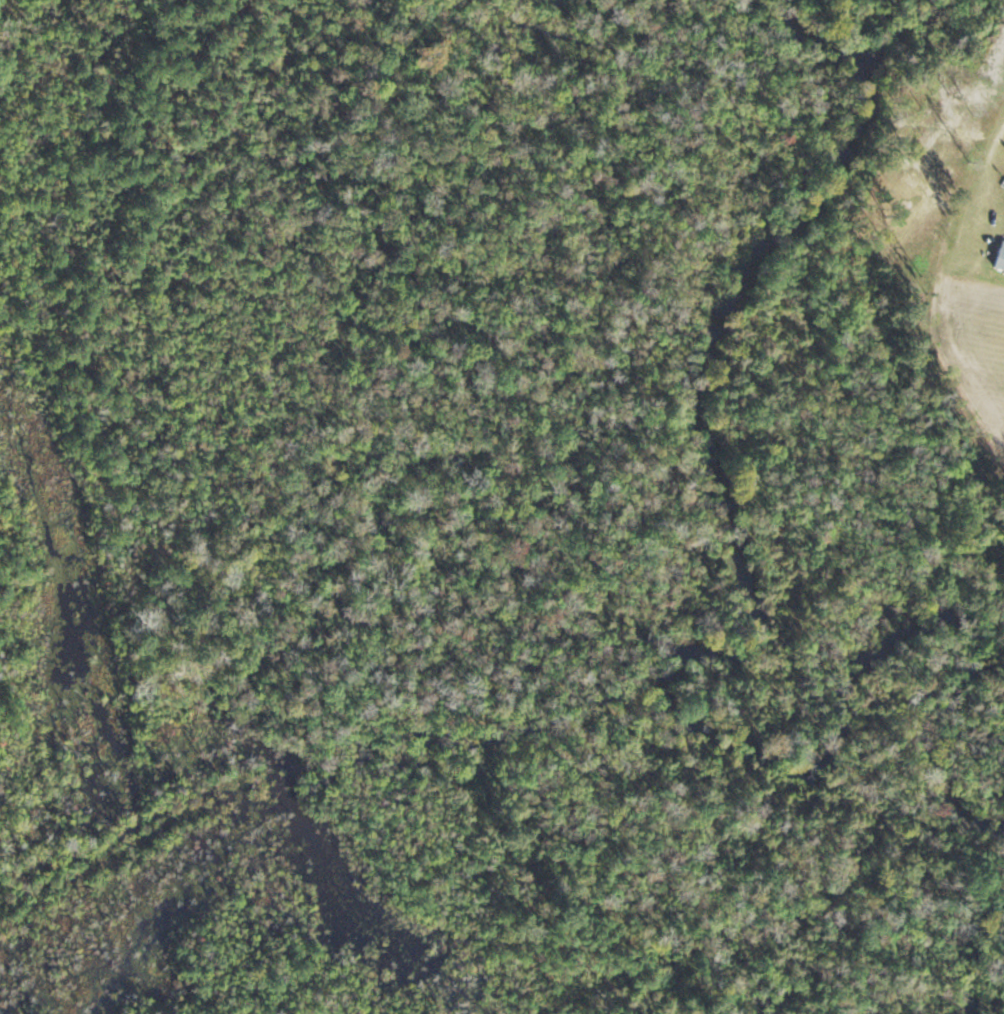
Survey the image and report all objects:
building: (998, 257)
river: (741, 542)
river: (964, 938)

